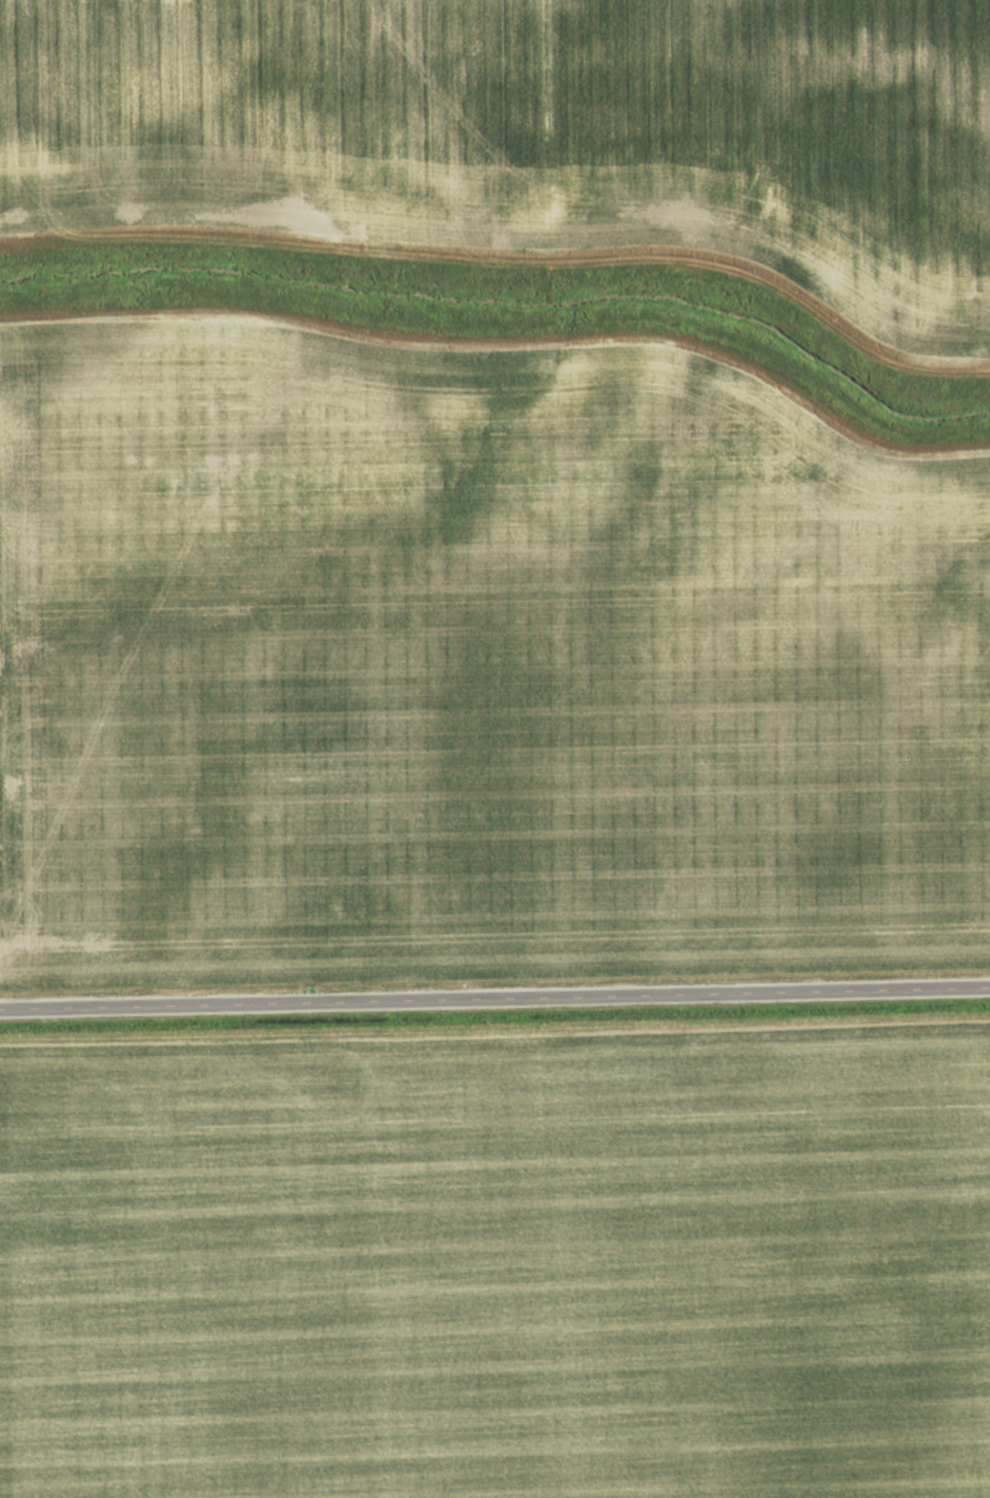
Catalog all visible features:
crop: (530, 138)
crop: (474, 657)
road: (495, 997)
crop: (498, 1264)

